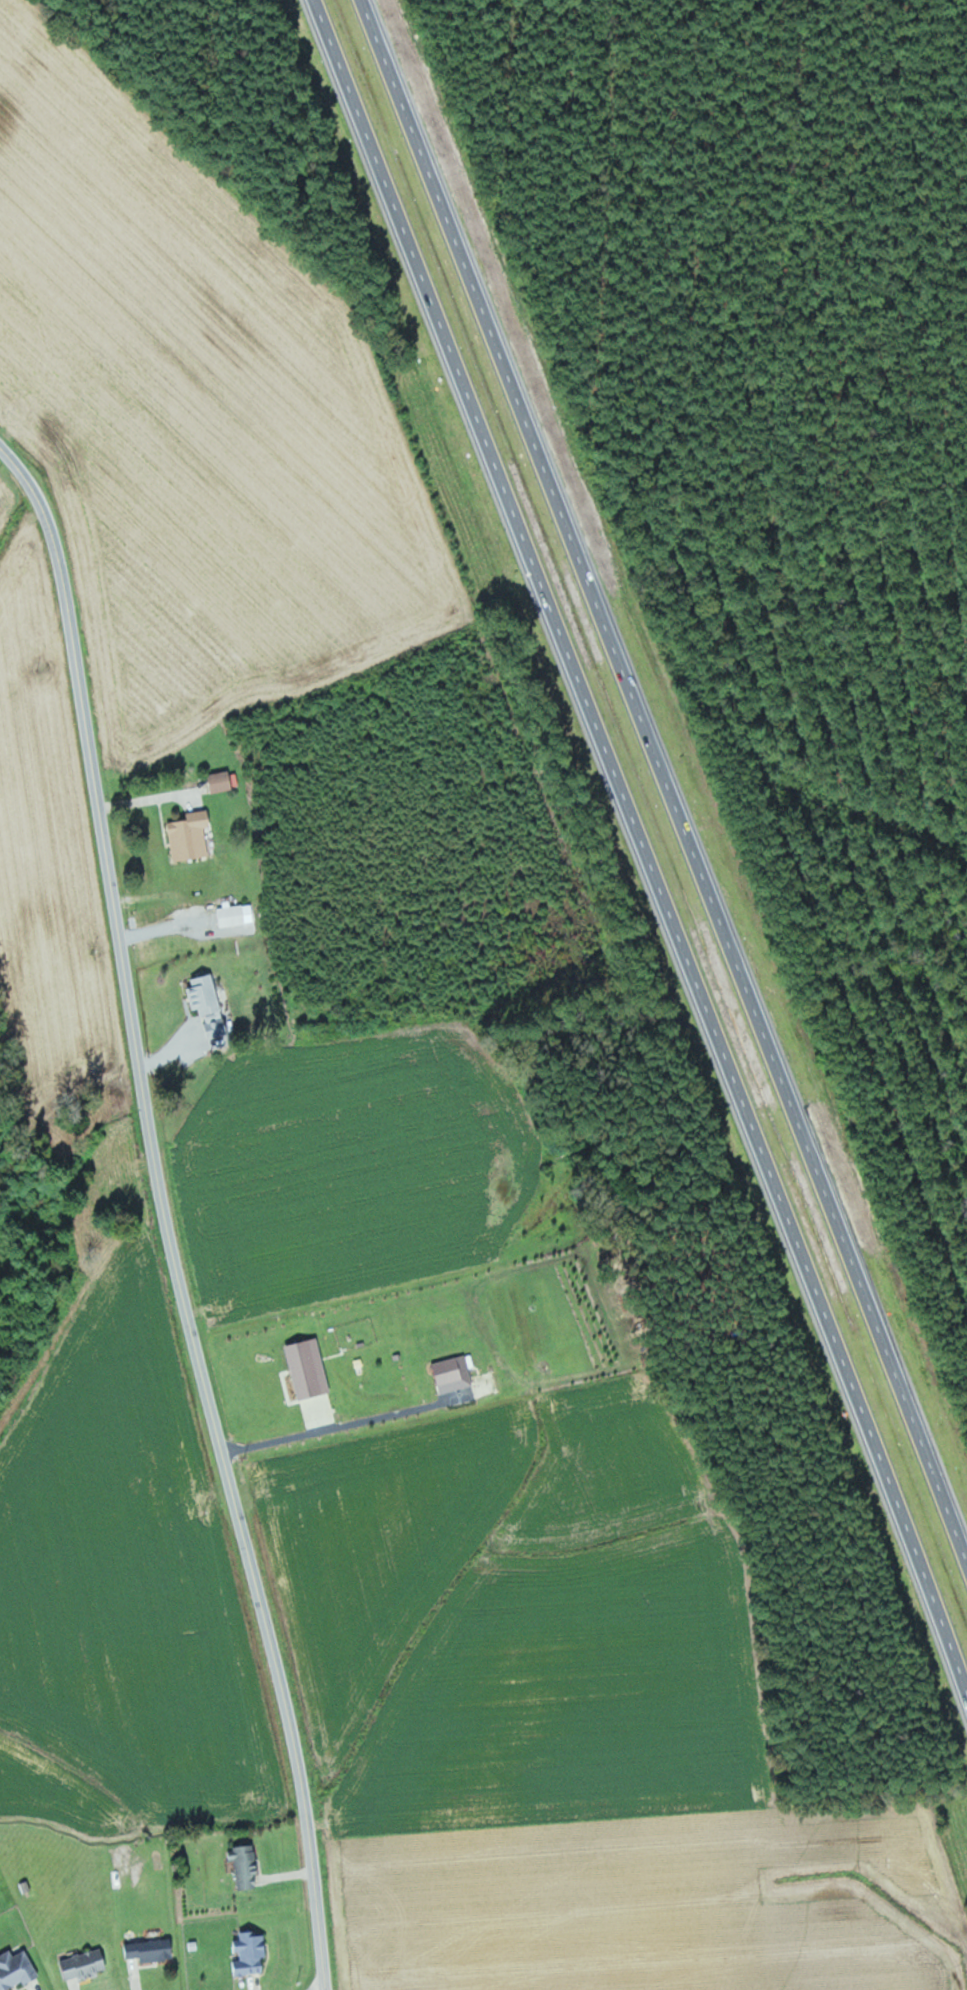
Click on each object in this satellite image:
building: (223, 781)
road: (671, 785)
building: (192, 835)
road: (643, 843)
building: (233, 914)
building: (233, 930)
building: (211, 1009)
road: (166, 1212)
building: (309, 1369)
building: (454, 1374)
building: (246, 1866)
building: (152, 1949)
building: (251, 1954)
building: (86, 1963)
building: (17, 1969)

